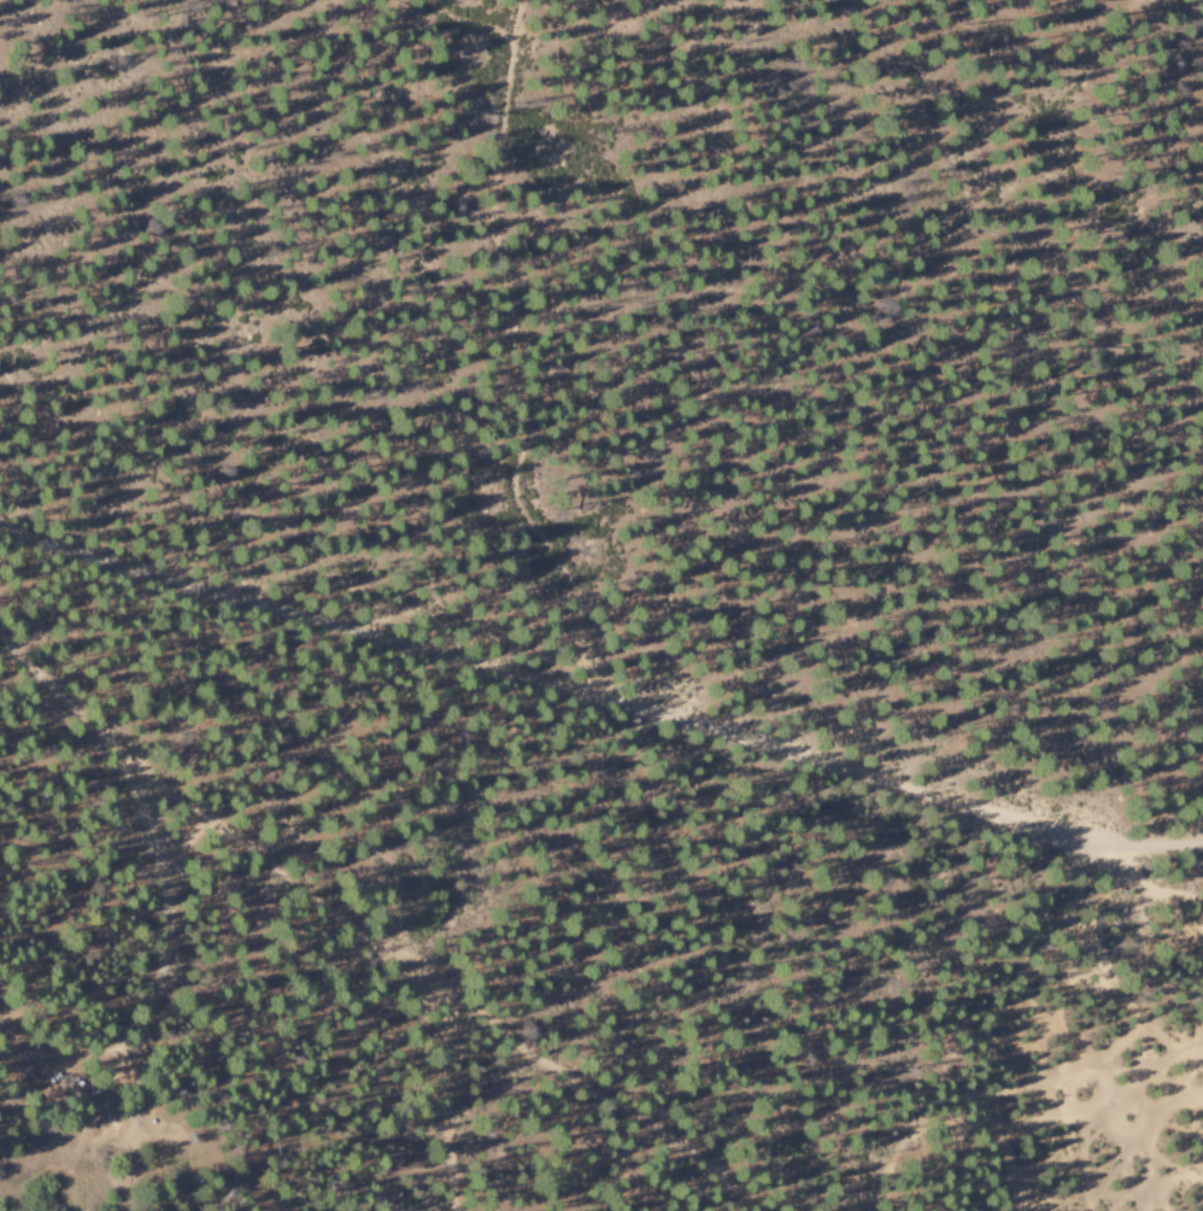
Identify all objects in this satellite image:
road: (599, 701)
road: (299, 884)
road: (1150, 890)
road: (166, 964)
road: (586, 1084)

